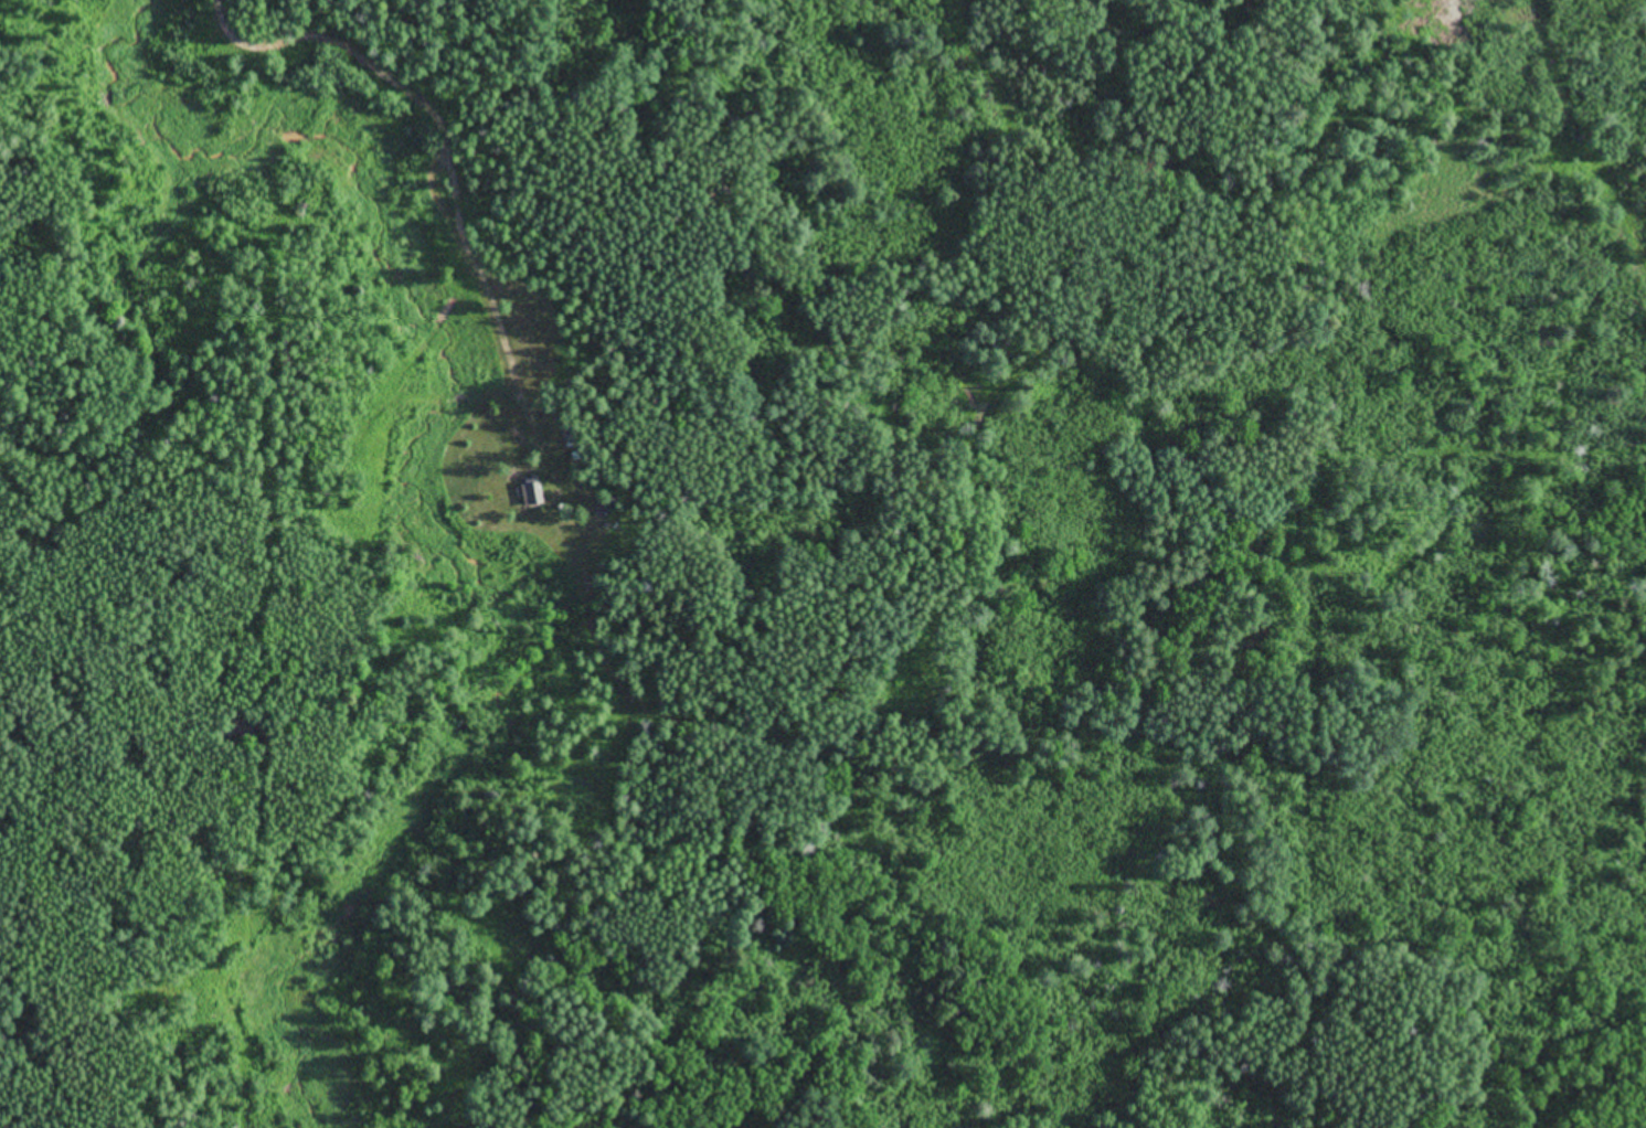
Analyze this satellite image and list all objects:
building: (534, 496)

